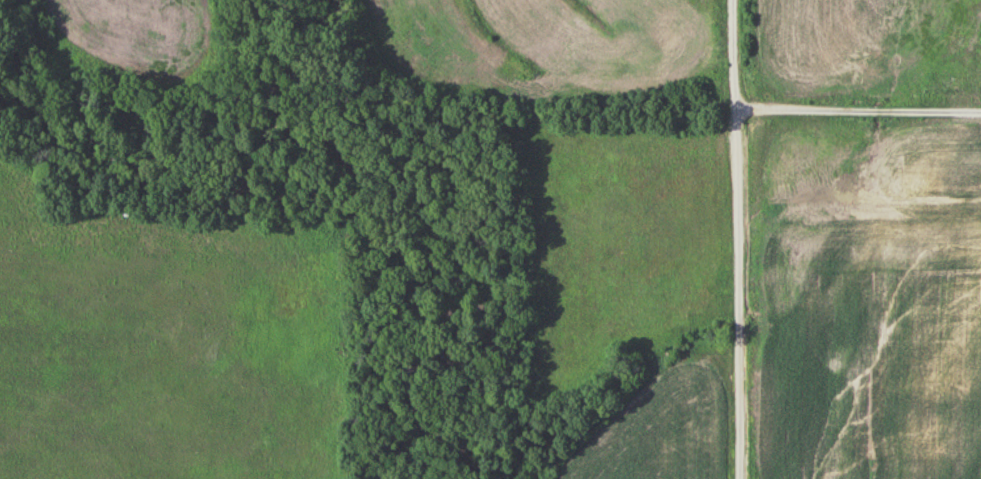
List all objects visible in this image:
road: (859, 111)
road: (739, 239)

